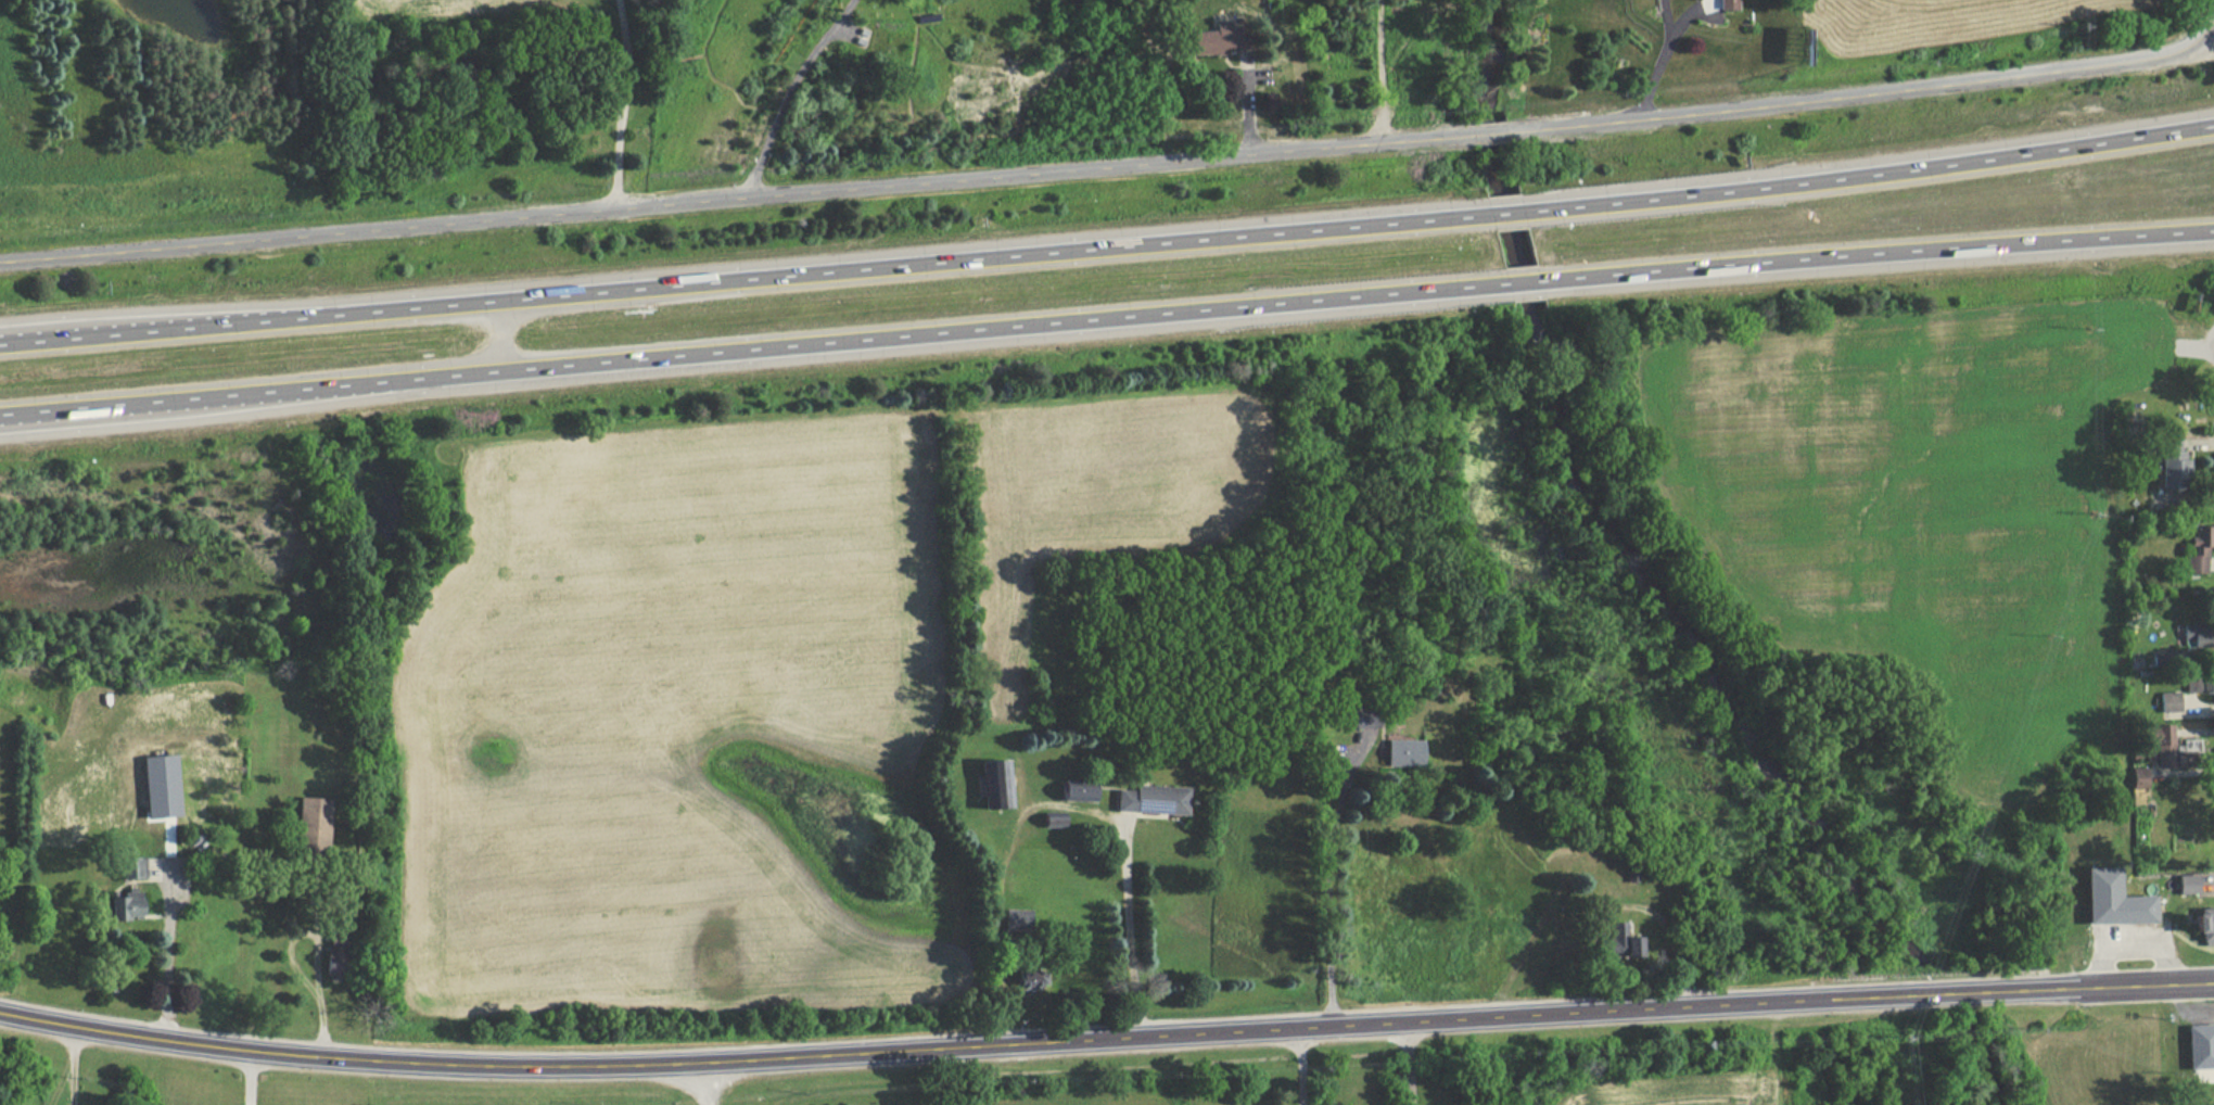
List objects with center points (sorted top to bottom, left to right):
building: (1212, 40)
road: (1657, 56)
road: (1863, 90)
road: (788, 91)
road: (621, 102)
road: (1490, 128)
road: (740, 194)
road: (1108, 244)
road: (1106, 316)
road: (502, 332)
building: (2168, 461)
building: (2194, 550)
building: (2198, 679)
building: (2164, 701)
building: (2158, 742)
building: (1399, 752)
building: (991, 783)
building: (1073, 790)
road: (1061, 798)
building: (1146, 799)
building: (315, 816)
building: (1052, 820)
road: (1326, 882)
building: (2188, 884)
building: (2114, 899)
building: (129, 901)
building: (2205, 925)
building: (1618, 941)
road: (2133, 942)
road: (170, 944)
road: (317, 949)
building: (338, 964)
building: (1025, 979)
road: (2091, 987)
road: (1955, 991)
road: (968, 1044)
building: (2198, 1049)
road: (1409, 1062)
road: (71, 1064)
road: (1300, 1066)
road: (249, 1077)

